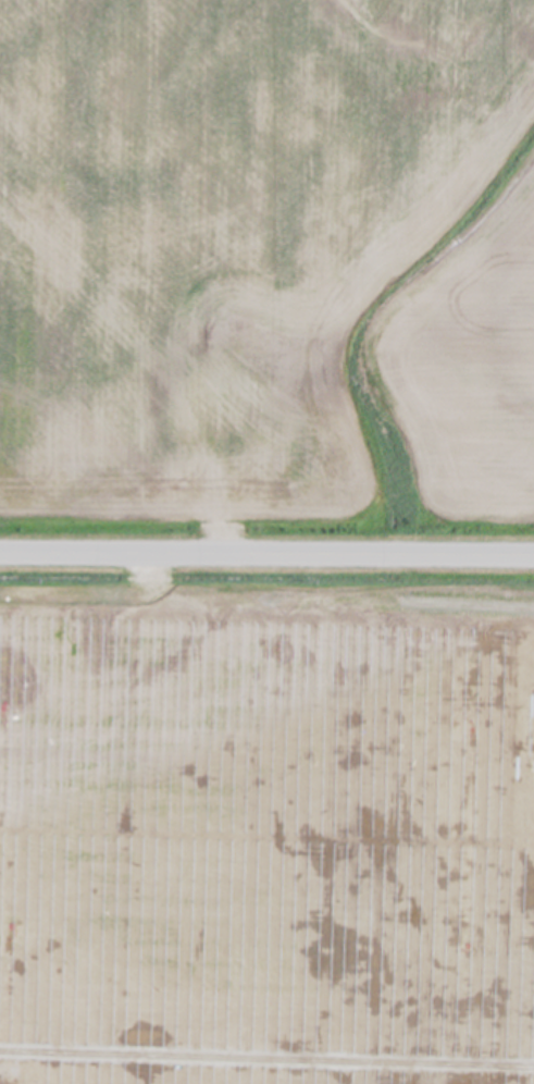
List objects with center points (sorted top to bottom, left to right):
road: (266, 554)
solar farm: (265, 842)

